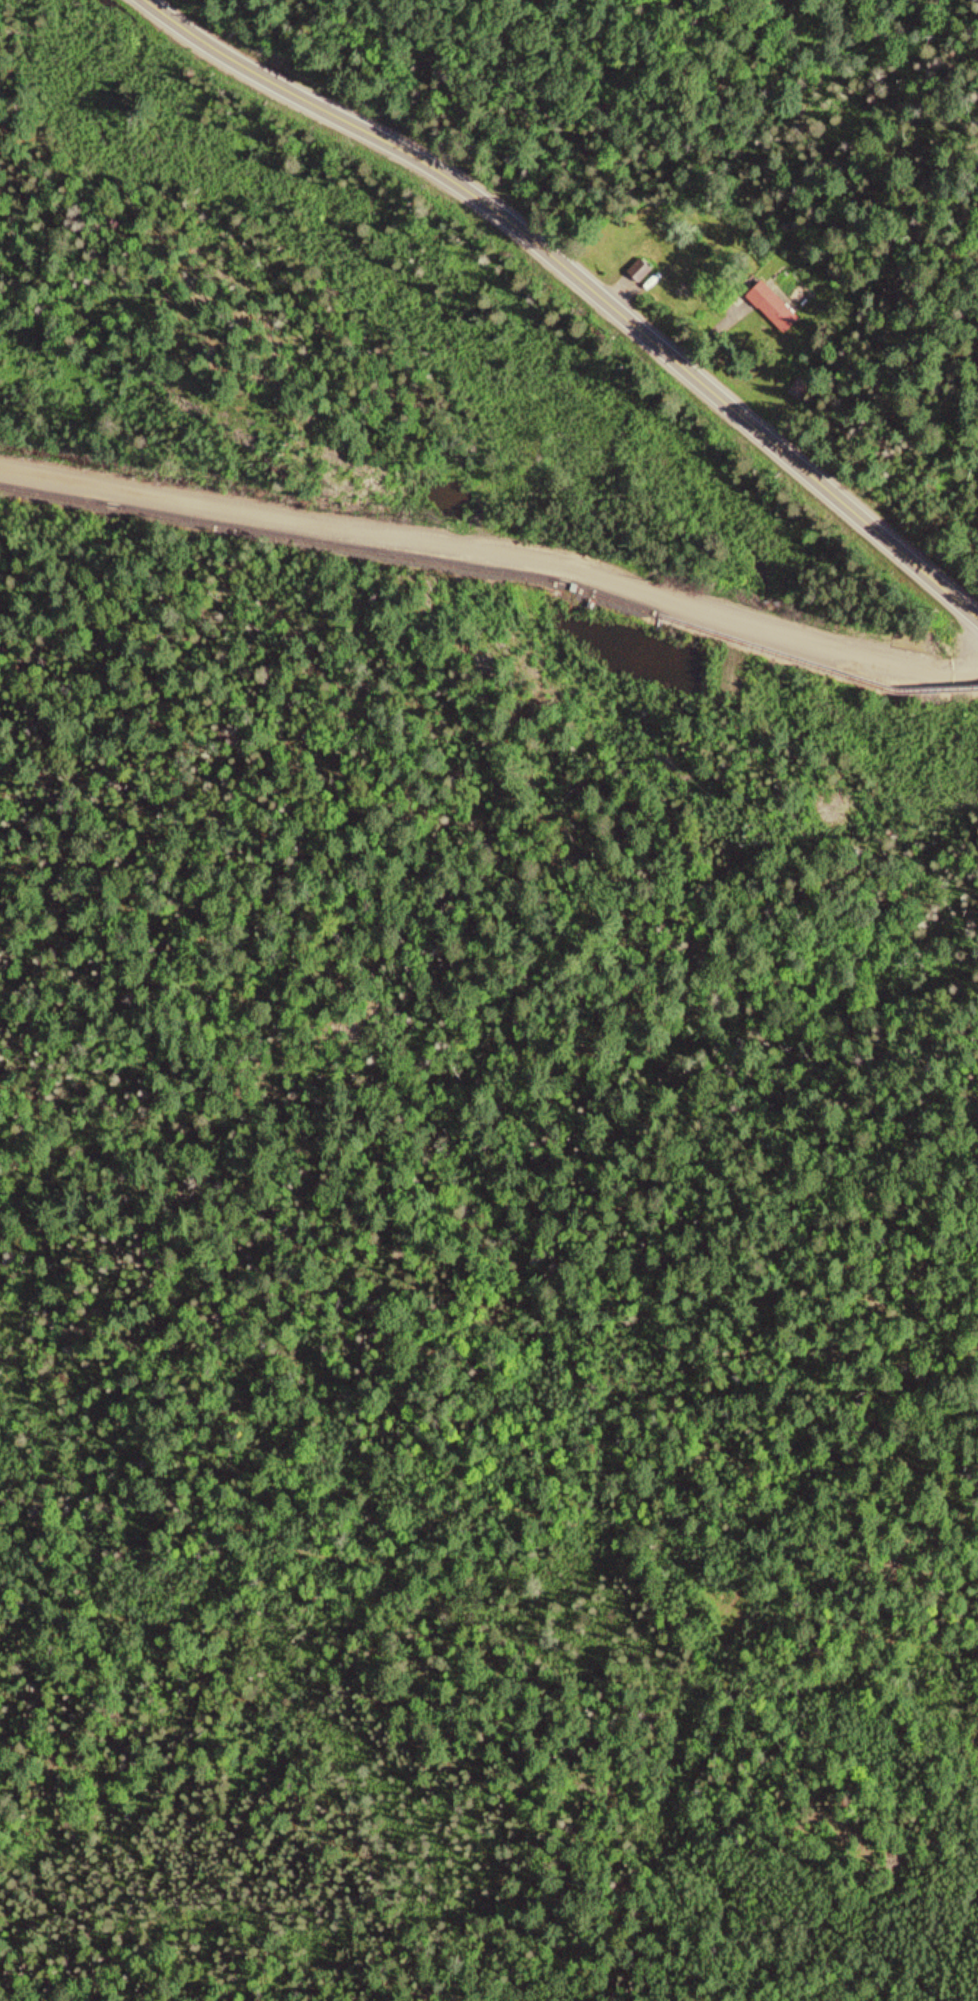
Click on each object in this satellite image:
building: (639, 270)
road: (580, 278)
building: (772, 306)

